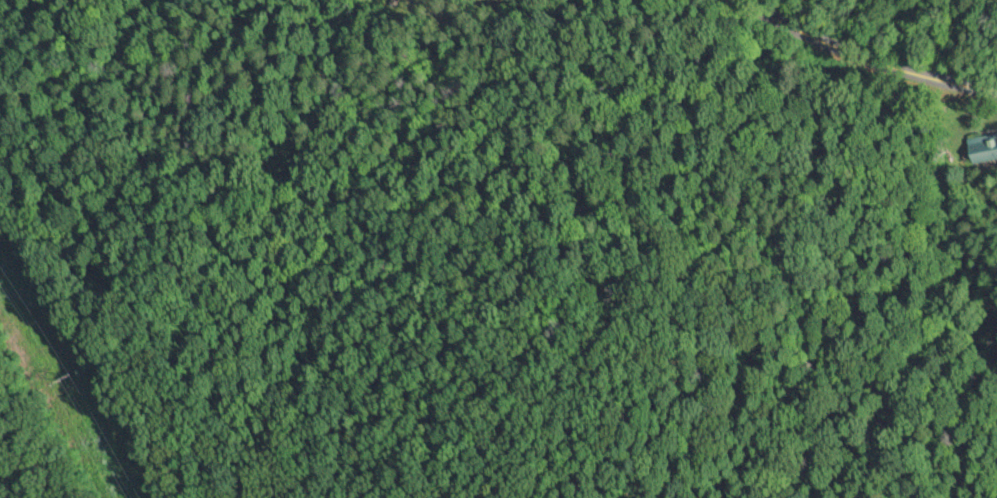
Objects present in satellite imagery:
road: (859, 60)
building: (983, 148)

